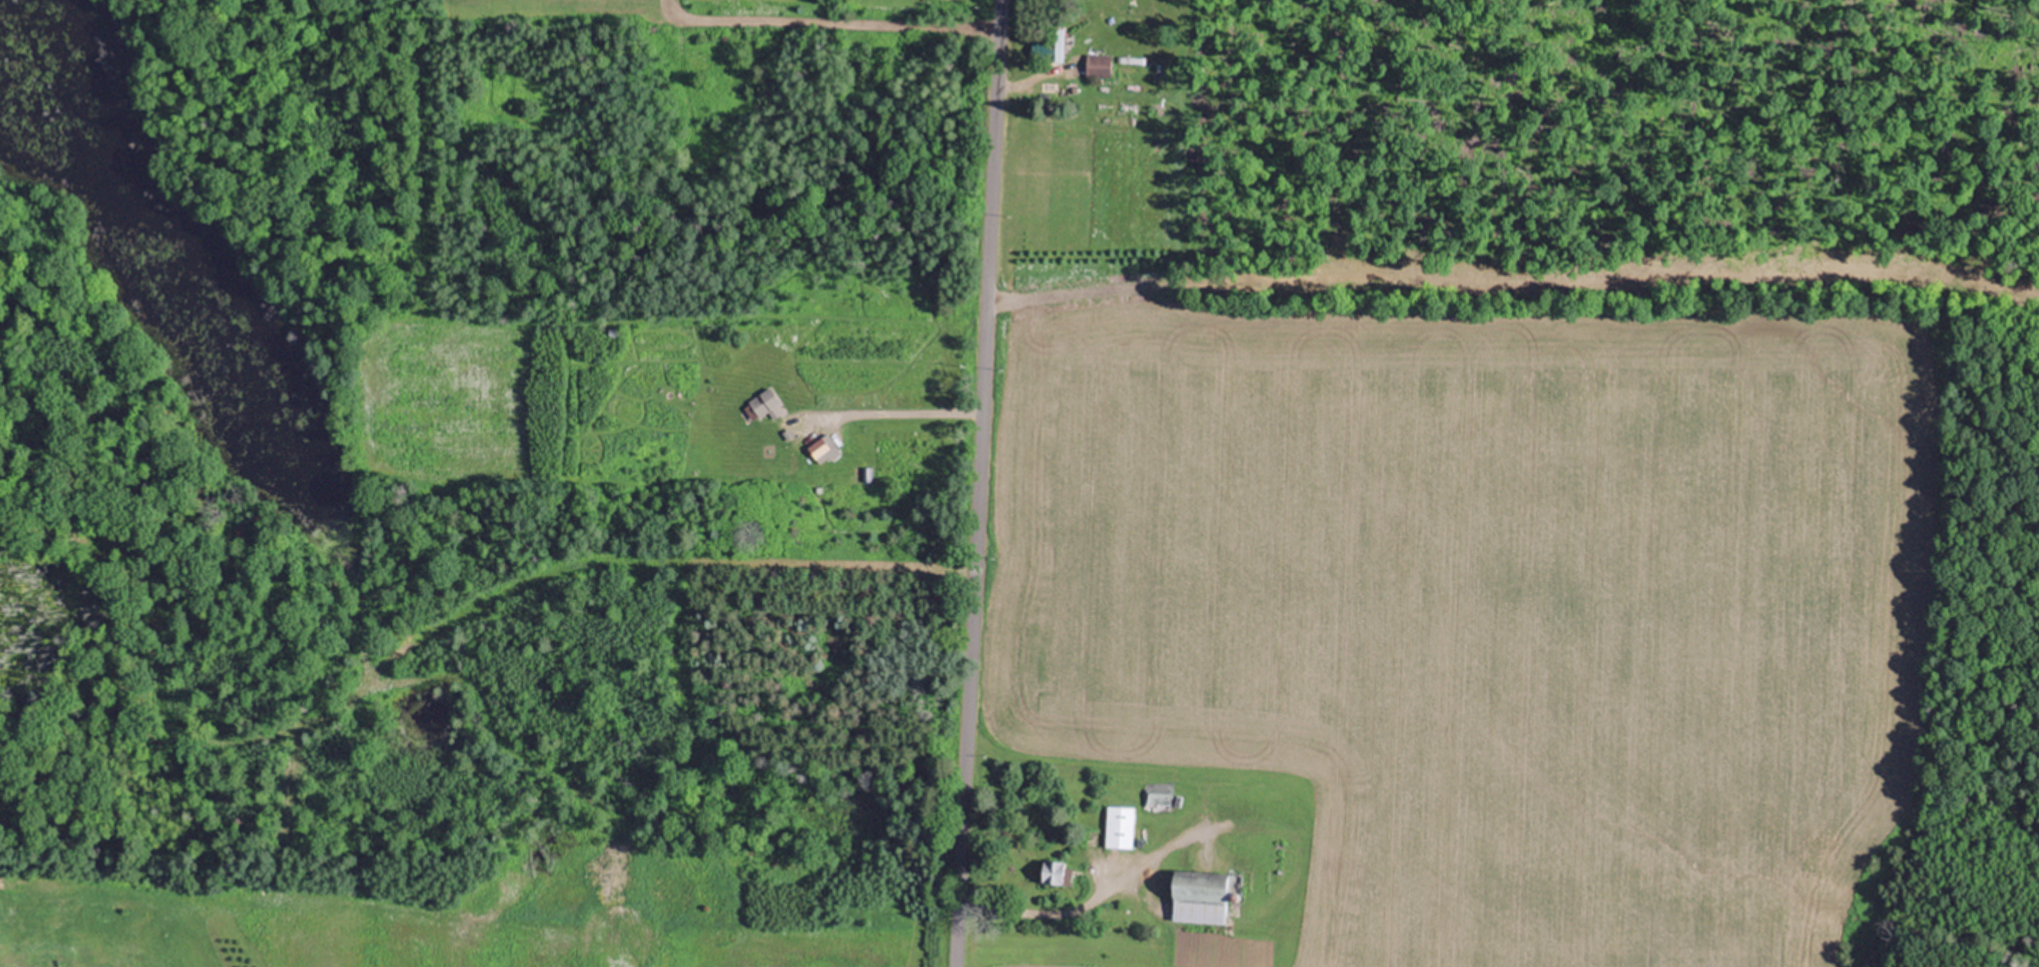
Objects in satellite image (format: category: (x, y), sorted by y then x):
road: (826, 22)
building: (1047, 48)
building: (1096, 64)
road: (1028, 76)
building: (1047, 87)
building: (763, 403)
road: (894, 413)
road: (974, 483)
building: (1155, 799)
building: (1117, 826)
building: (1060, 873)
building: (1203, 895)
road: (1043, 913)

